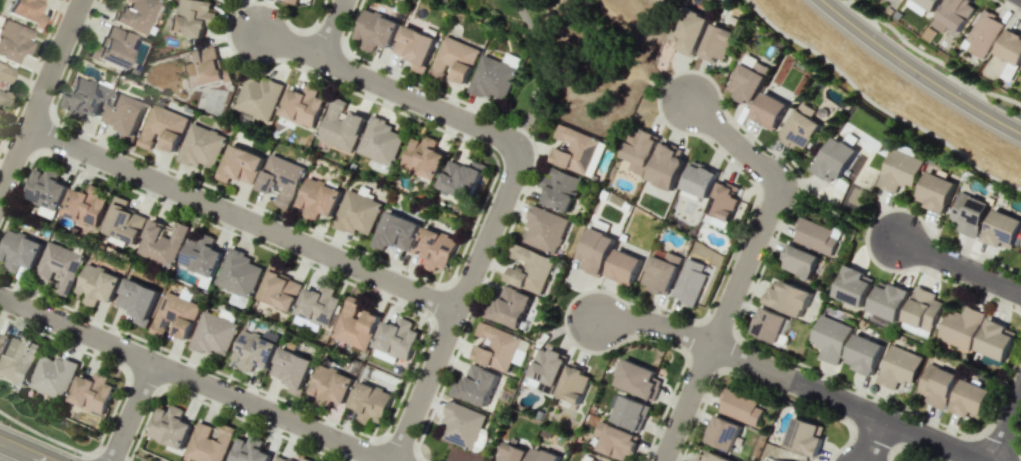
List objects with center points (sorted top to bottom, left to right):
building: (290, 1)
building: (923, 5)
building: (24, 11)
building: (954, 14)
building: (134, 15)
building: (194, 17)
road: (329, 28)
building: (375, 30)
road: (630, 31)
building: (690, 31)
building: (983, 34)
building: (11, 40)
building: (717, 43)
street lamp: (810, 43)
building: (414, 46)
building: (114, 48)
building: (1011, 51)
park: (580, 58)
building: (454, 59)
building: (206, 66)
road: (918, 70)
road: (541, 72)
building: (4, 74)
road: (588, 74)
building: (492, 78)
road: (642, 78)
building: (747, 80)
road: (390, 88)
road: (667, 90)
road: (39, 95)
building: (85, 97)
building: (258, 97)
building: (2, 99)
building: (302, 106)
street lamp: (897, 106)
building: (768, 110)
building: (123, 115)
street lamp: (13, 121)
building: (340, 125)
building: (800, 126)
building: (163, 128)
street lamp: (531, 135)
building: (380, 143)
building: (201, 146)
building: (575, 149)
building: (641, 150)
building: (424, 157)
building: (834, 159)
street lamp: (988, 161)
street lamp: (79, 165)
building: (240, 165)
building: (667, 165)
building: (900, 170)
building: (461, 178)
building: (281, 179)
building: (699, 180)
building: (45, 189)
building: (560, 189)
building: (936, 192)
building: (318, 198)
building: (723, 202)
building: (85, 206)
building: (357, 213)
building: (969, 214)
road: (241, 217)
building: (123, 222)
building: (545, 229)
building: (1002, 229)
building: (395, 231)
building: (816, 236)
building: (163, 242)
building: (1020, 246)
building: (435, 248)
building: (596, 250)
building: (19, 251)
building: (201, 255)
building: (800, 261)
building: (60, 266)
road: (958, 266)
building: (624, 267)
road: (743, 267)
building: (531, 270)
building: (661, 271)
building: (239, 273)
building: (689, 282)
building: (97, 284)
street lamp: (959, 284)
building: (854, 286)
building: (280, 290)
building: (789, 298)
building: (137, 300)
building: (889, 301)
building: (319, 306)
building: (511, 306)
road: (455, 310)
building: (922, 312)
street lamp: (470, 315)
building: (175, 316)
building: (356, 324)
building: (769, 324)
building: (961, 327)
street lamp: (48, 333)
building: (214, 334)
building: (397, 338)
building: (831, 338)
building: (995, 340)
street lamp: (159, 348)
building: (498, 348)
building: (253, 351)
building: (864, 354)
building: (16, 360)
building: (548, 366)
building: (899, 367)
building: (291, 369)
building: (53, 376)
road: (192, 378)
building: (638, 379)
road: (791, 379)
building: (574, 383)
building: (332, 384)
building: (478, 385)
building: (937, 385)
building: (92, 392)
building: (971, 399)
building: (370, 402)
building: (740, 407)
street lamp: (114, 411)
road: (130, 411)
building: (630, 413)
street lamp: (241, 415)
building: (461, 424)
road: (1005, 424)
street lamp: (338, 425)
building: (169, 426)
building: (723, 433)
building: (805, 436)
road: (872, 439)
building: (616, 441)
building: (209, 443)
road: (24, 450)
building: (248, 450)
street lamp: (73, 452)
building: (512, 453)
building: (543, 455)
building: (281, 458)
building: (715, 458)
building: (304, 459)
building: (587, 459)
building: (777, 460)

